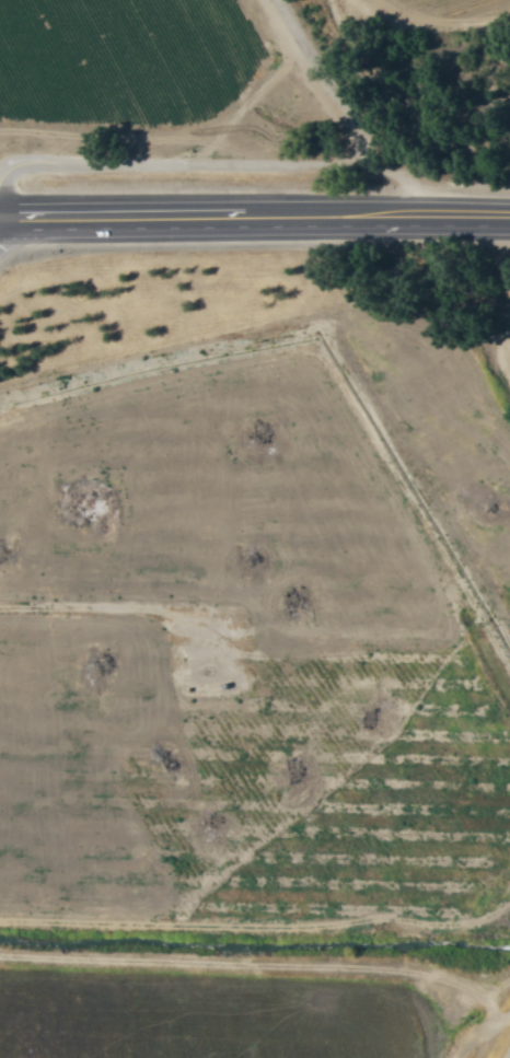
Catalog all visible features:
road: (253, 159)
road: (181, 213)
road: (436, 213)
railway: (255, 286)
road: (507, 1054)

